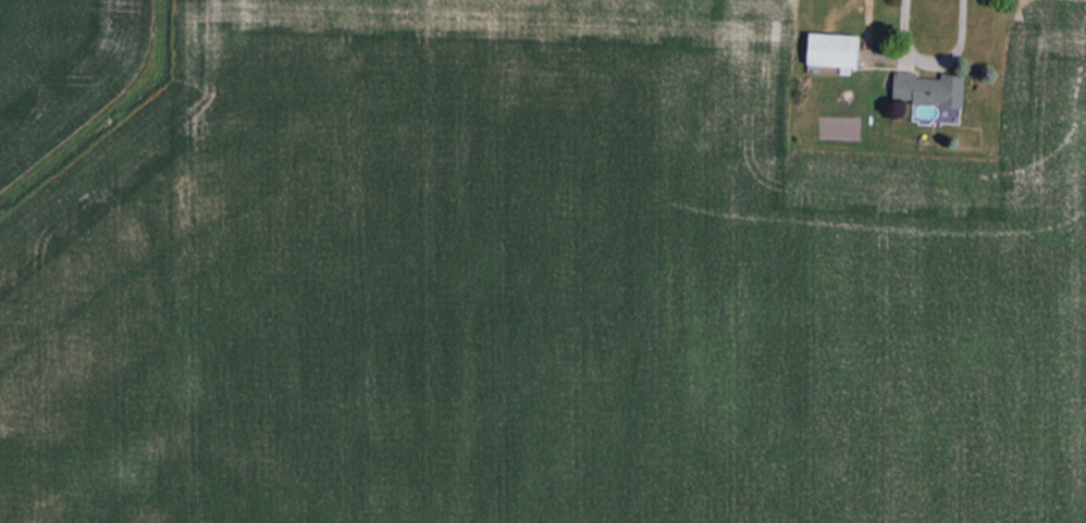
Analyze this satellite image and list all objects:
building: (834, 50)
building: (928, 88)

